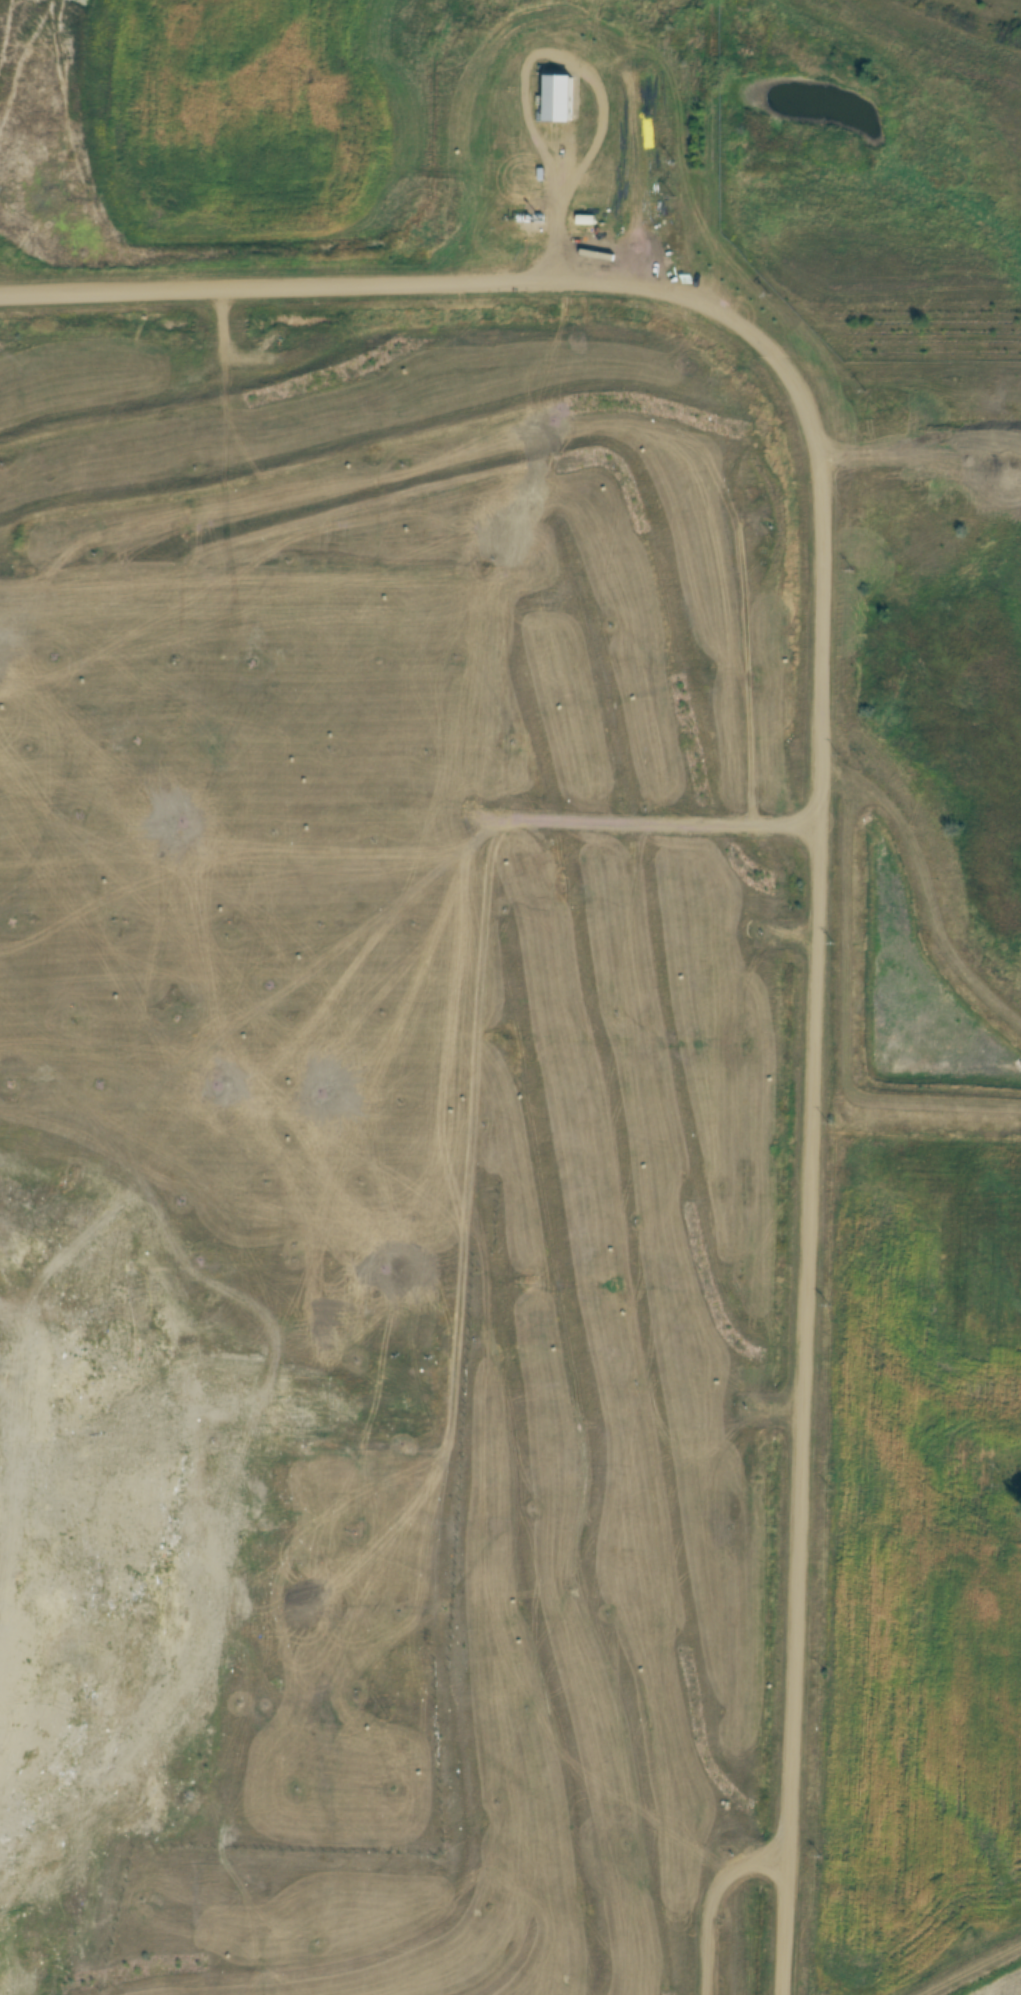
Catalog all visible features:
road: (596, 76)
building: (558, 99)
building: (586, 220)
road: (800, 773)
landfill: (133, 1372)
crop: (919, 1565)
road: (717, 1901)

